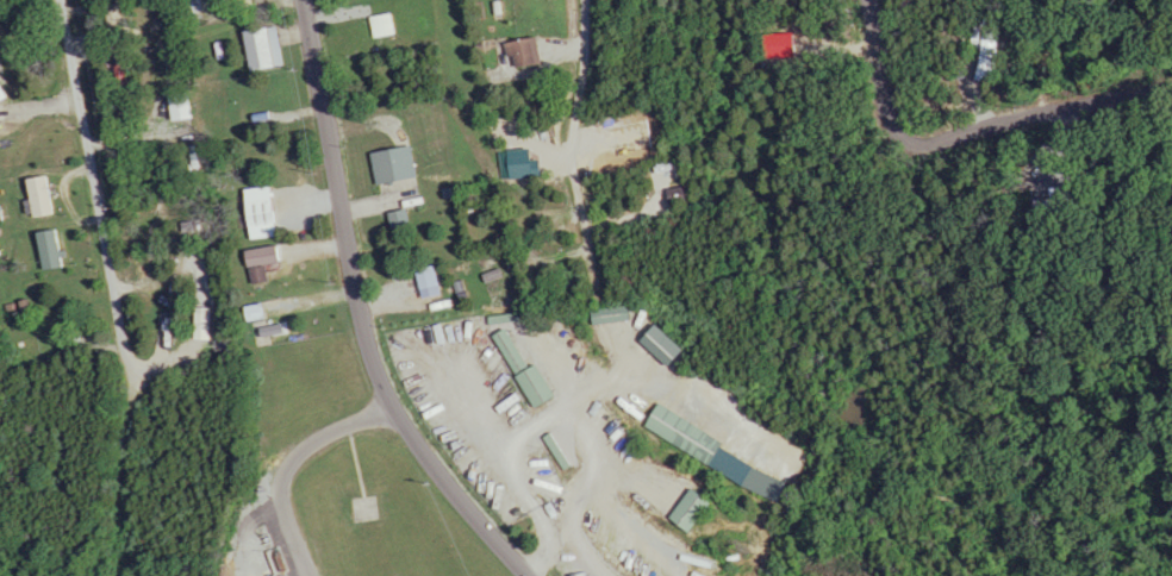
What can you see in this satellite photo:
building: (385, 25)
building: (268, 48)
building: (515, 52)
road: (873, 74)
building: (186, 106)
road: (1037, 109)
road: (581, 149)
building: (397, 164)
road: (89, 183)
building: (43, 196)
road: (338, 206)
building: (264, 212)
building: (403, 219)
building: (51, 250)
building: (266, 261)
building: (431, 282)
building: (258, 313)
building: (605, 314)
building: (504, 349)
building: (529, 387)
building: (678, 436)
road: (592, 455)
road: (283, 470)
road: (455, 495)
building: (684, 512)
road: (289, 539)

